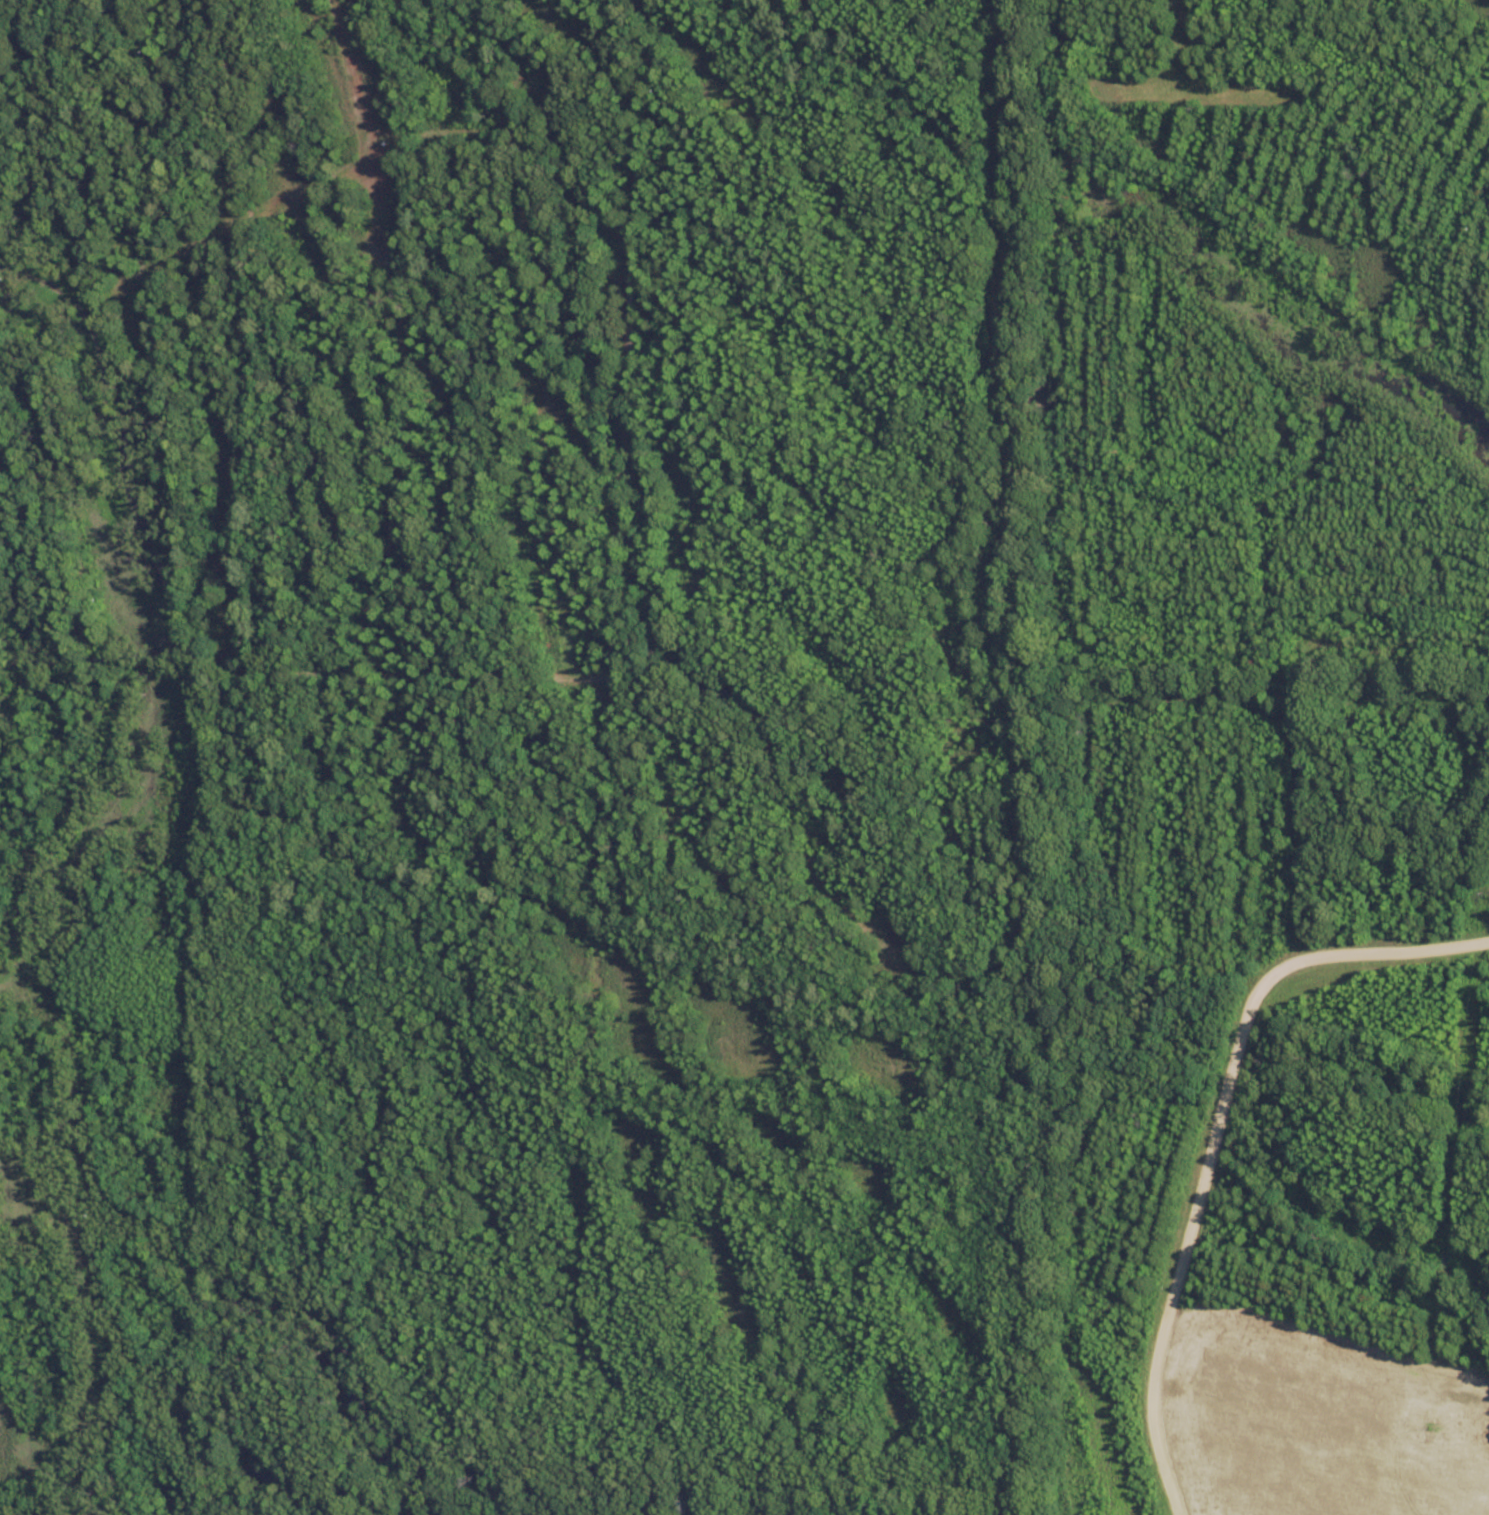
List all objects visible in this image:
road: (1218, 1157)

